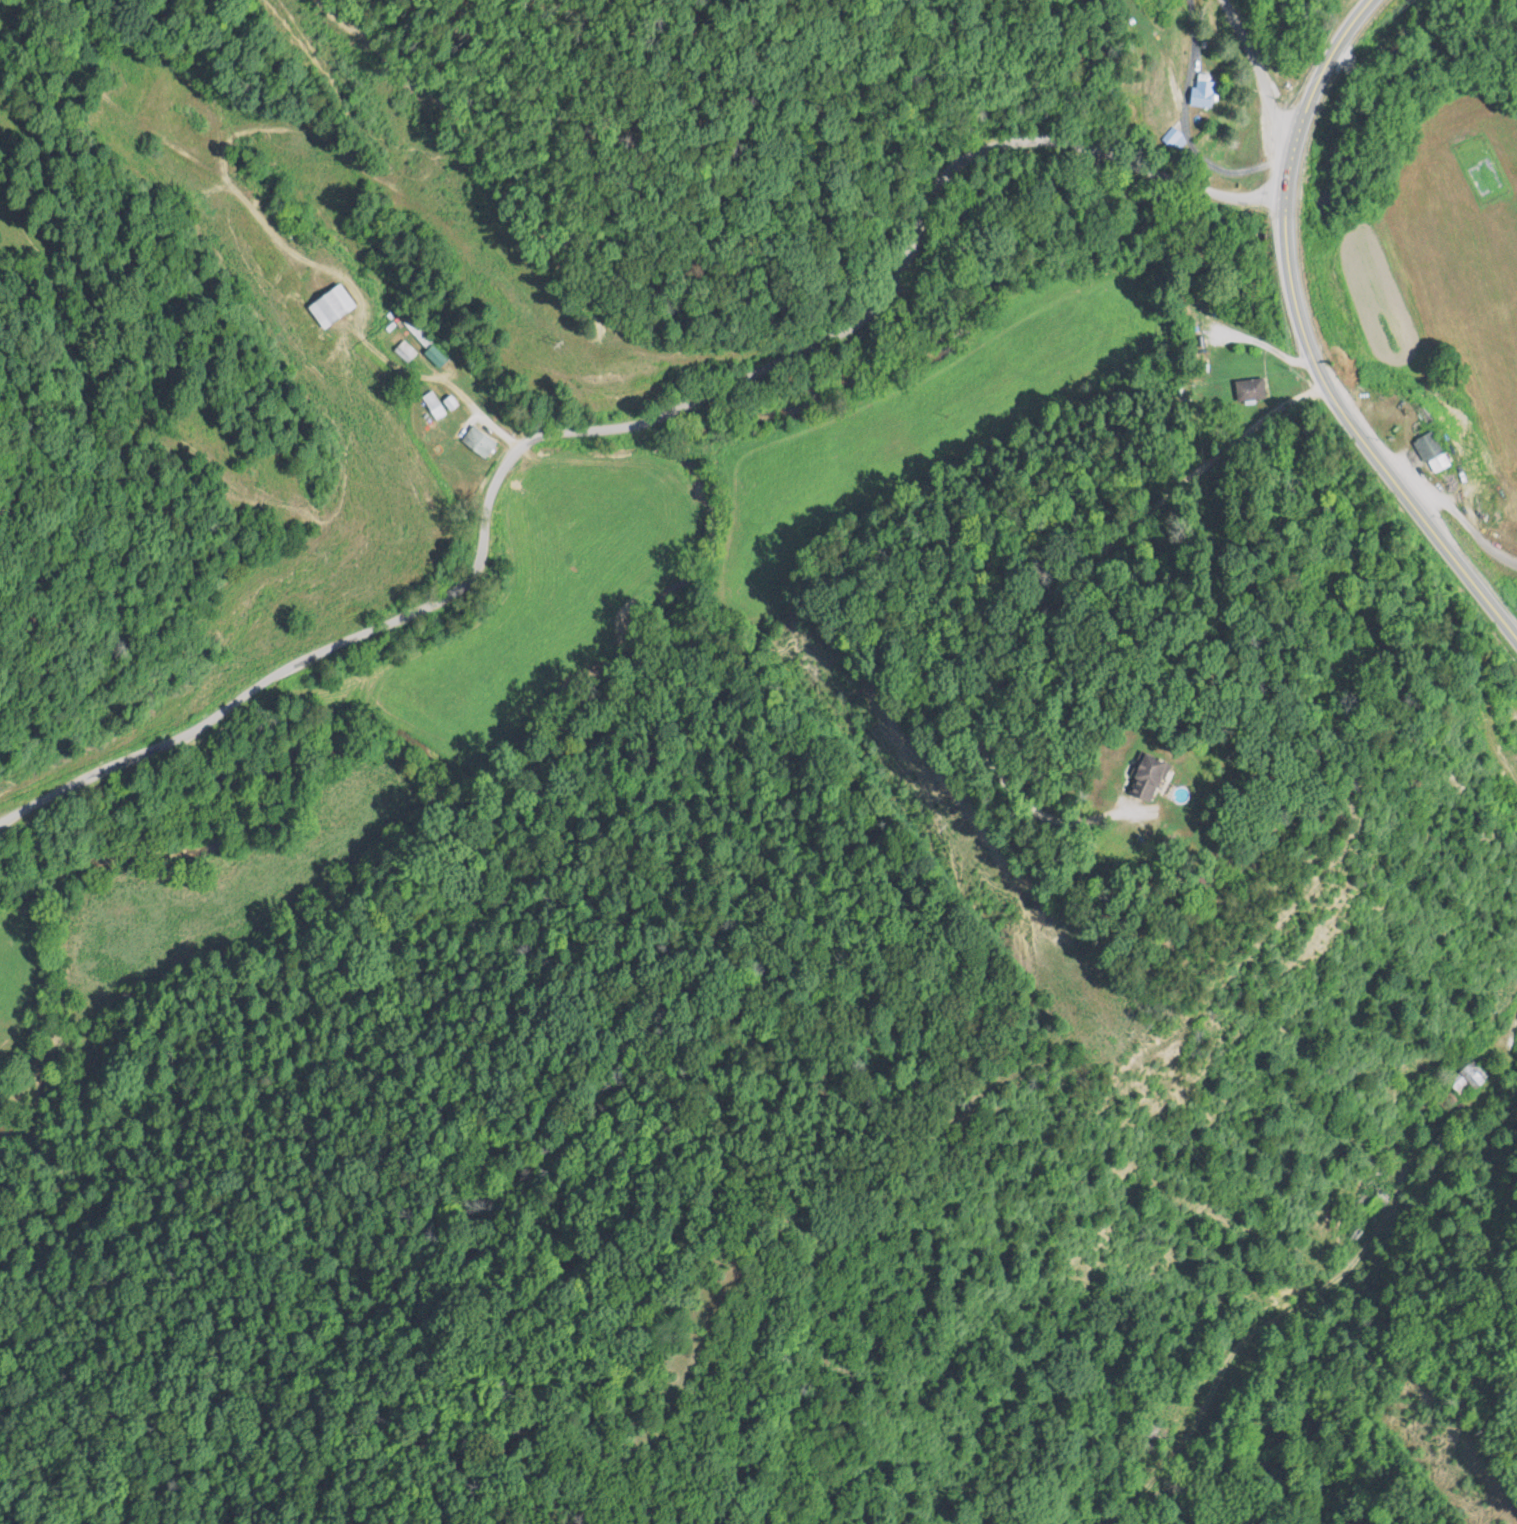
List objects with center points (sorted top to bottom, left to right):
road: (1261, 71)
building: (1200, 91)
road: (1183, 127)
building: (1170, 139)
road: (926, 197)
building: (328, 305)
road: (1305, 341)
building: (404, 351)
building: (433, 356)
building: (1248, 389)
building: (431, 405)
building: (476, 442)
building: (1425, 446)
road: (1465, 522)
road: (1067, 606)
road: (356, 638)
building: (1146, 775)
building: (1465, 1081)
building: (1373, 1203)
road: (1388, 1214)

